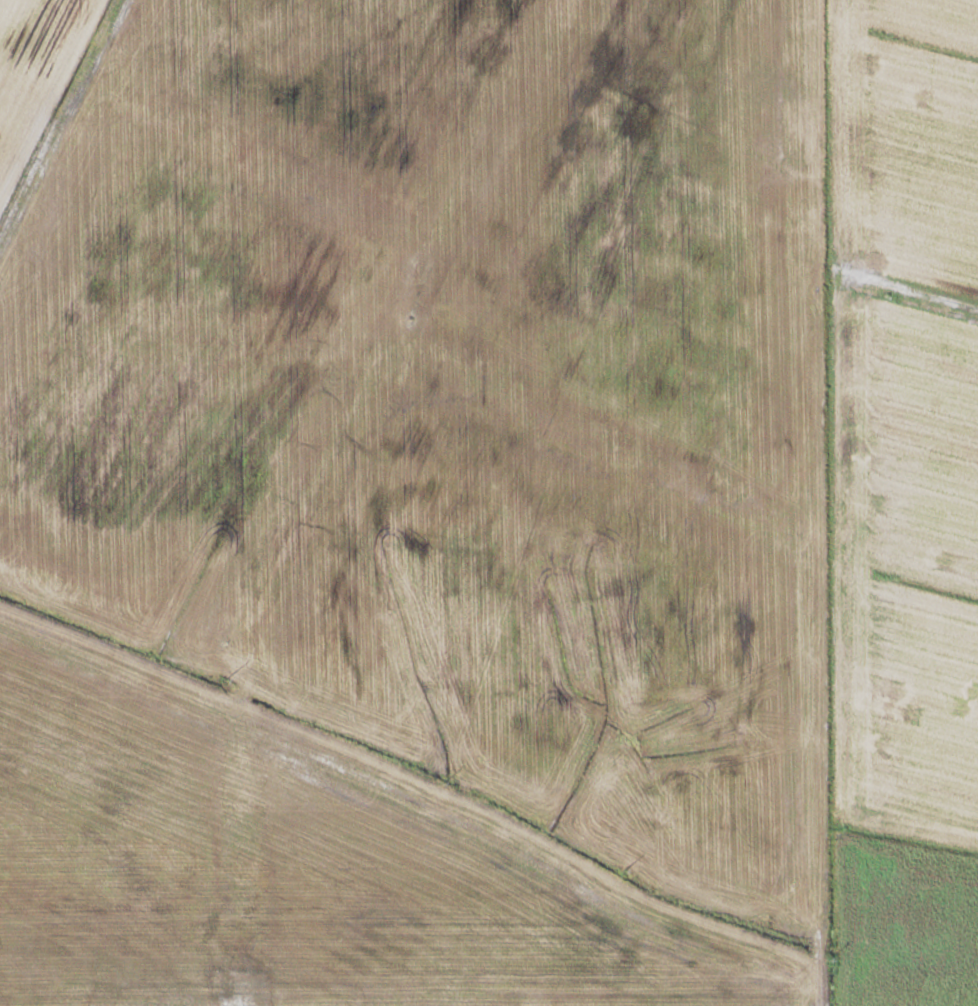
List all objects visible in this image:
road: (809, 503)

